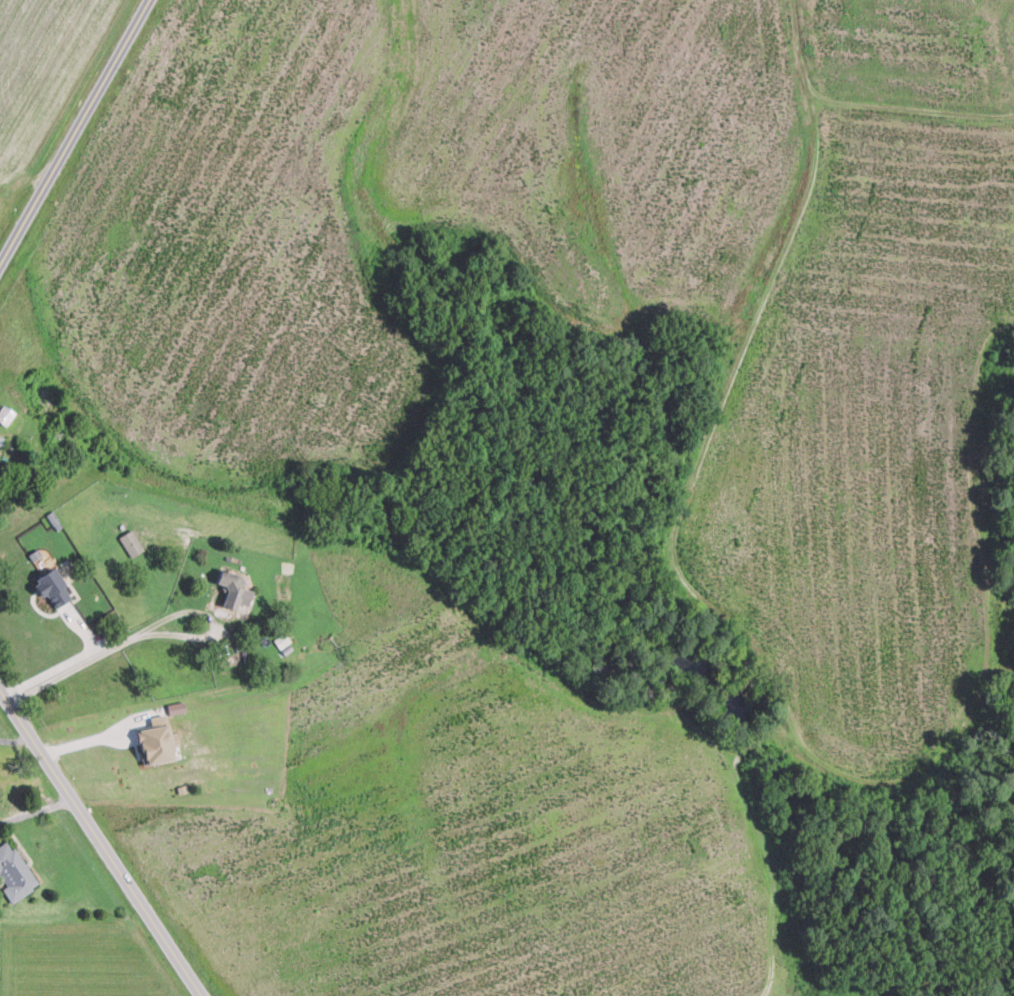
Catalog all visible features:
road: (75, 133)
building: (131, 542)
building: (52, 587)
building: (233, 589)
road: (102, 654)
road: (67, 662)
road: (17, 739)
building: (156, 740)
road: (36, 809)
road: (100, 841)
building: (14, 873)

